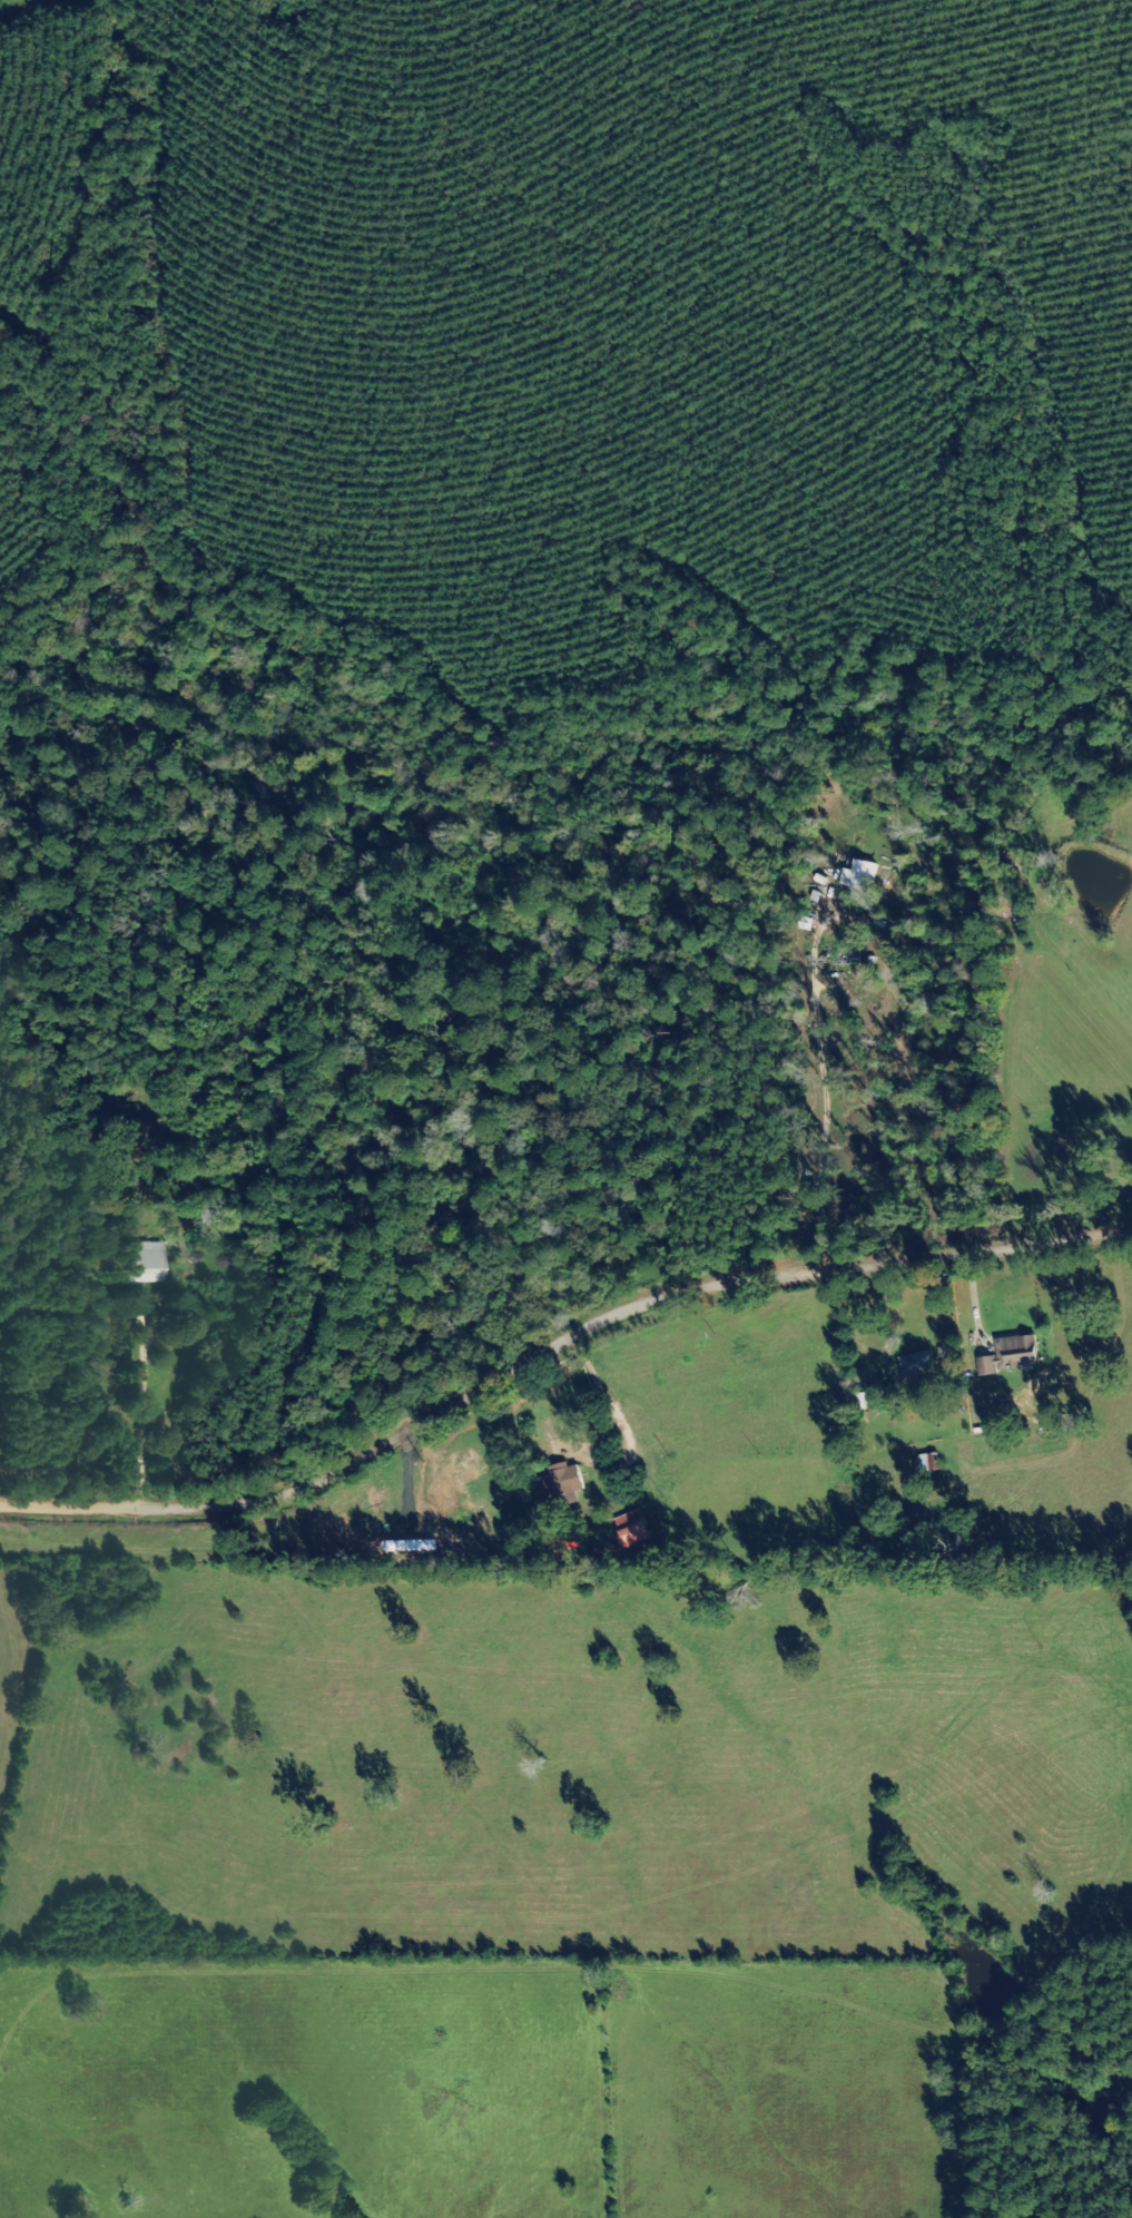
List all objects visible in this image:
building: (840, 877)
road: (830, 1057)
building: (206, 1211)
road: (852, 1229)
building: (147, 1265)
road: (978, 1306)
road: (550, 1345)
building: (1012, 1354)
building: (915, 1364)
road: (603, 1393)
road: (147, 1405)
road: (408, 1479)
building: (561, 1486)
building: (632, 1528)

